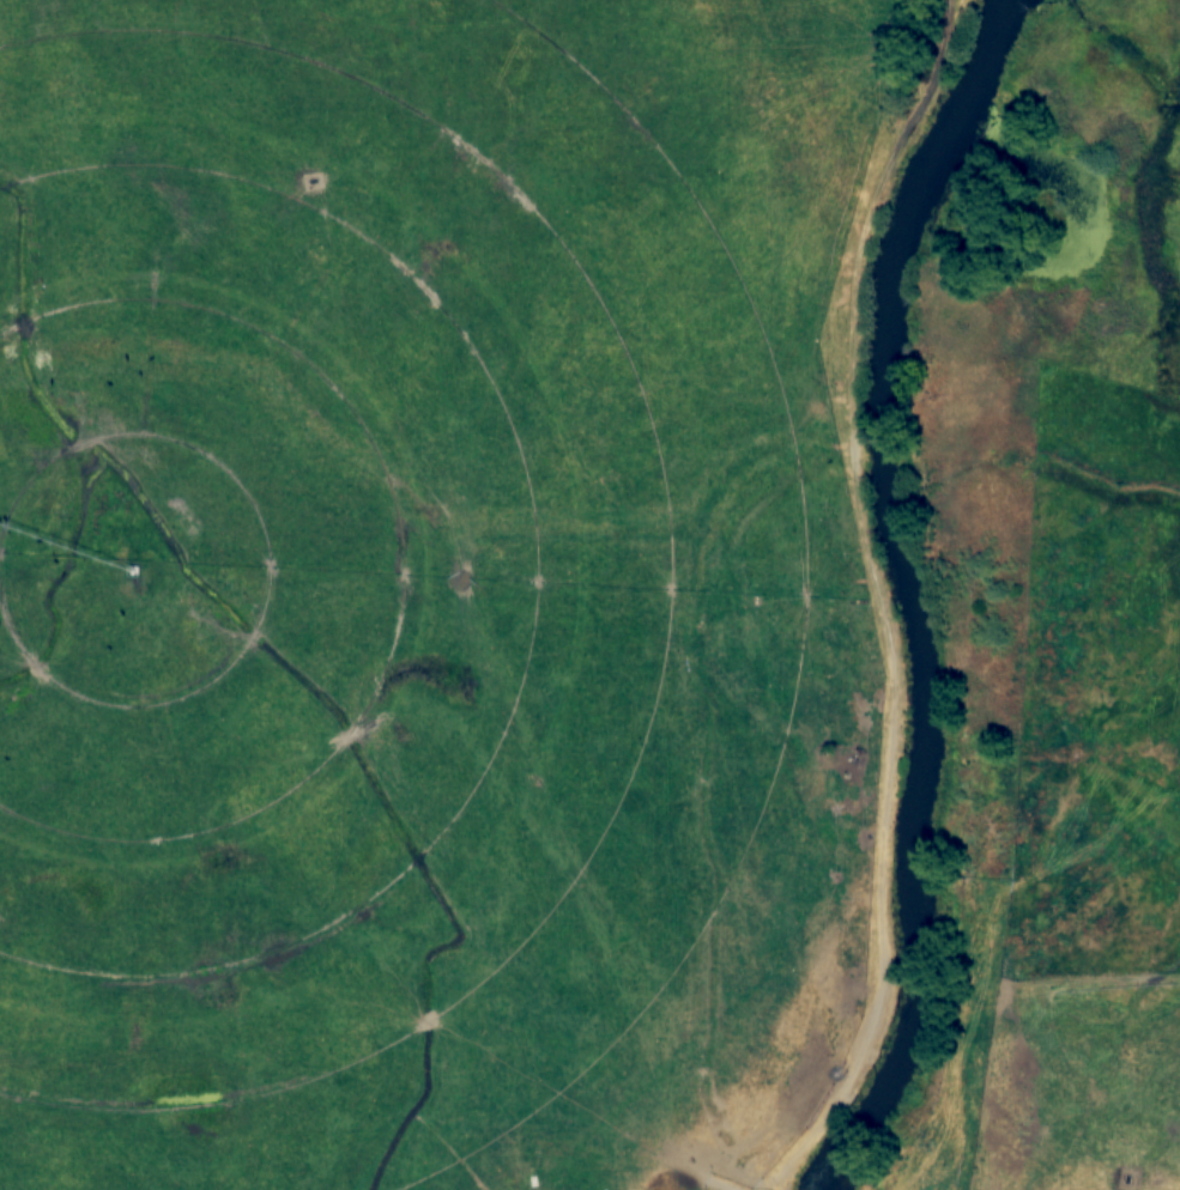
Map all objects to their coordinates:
river: (910, 593)

